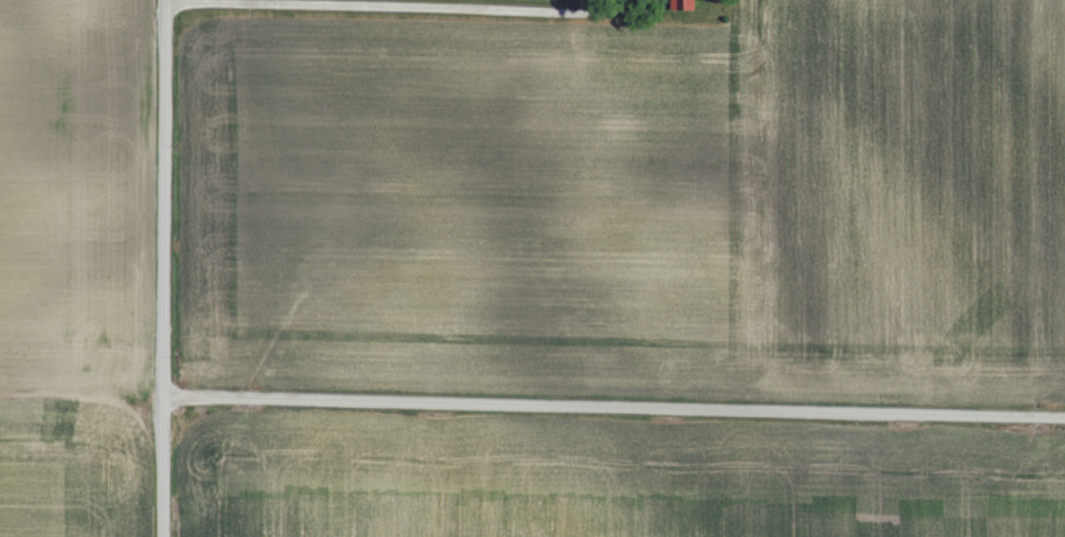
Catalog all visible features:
road: (390, 10)
road: (158, 267)
road: (611, 402)

